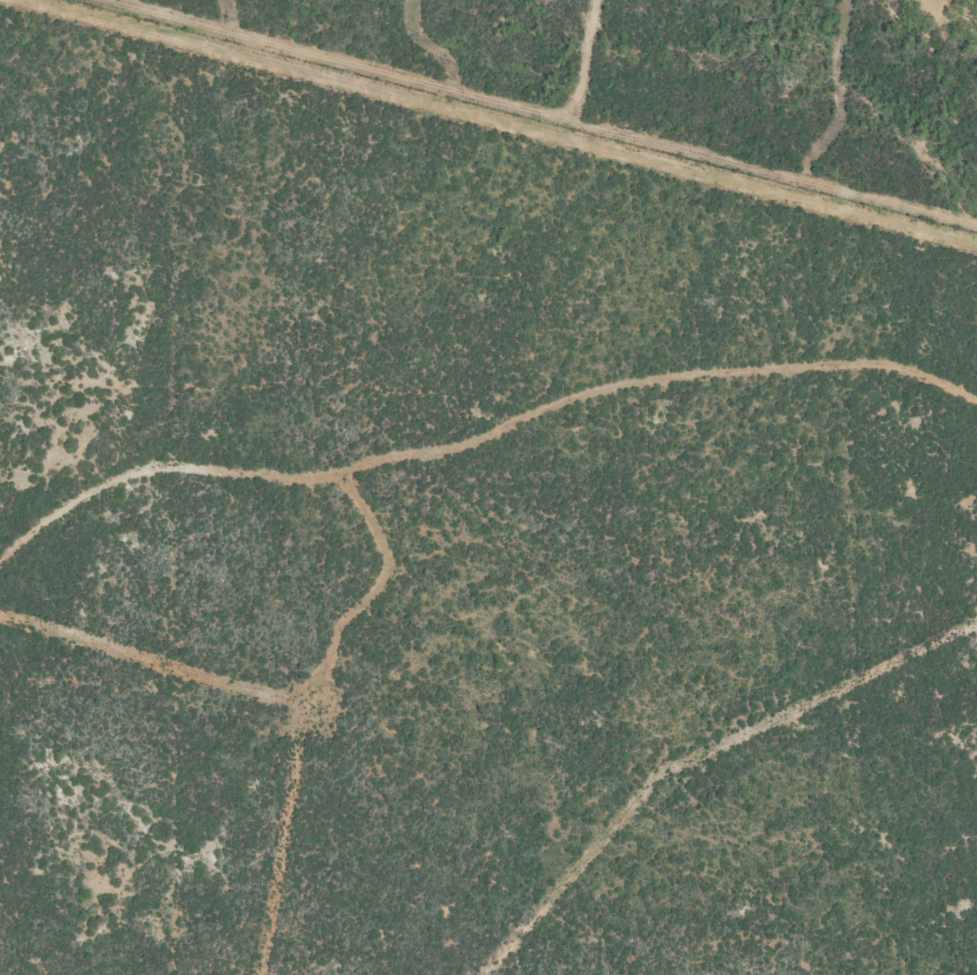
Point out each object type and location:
road: (499, 481)

